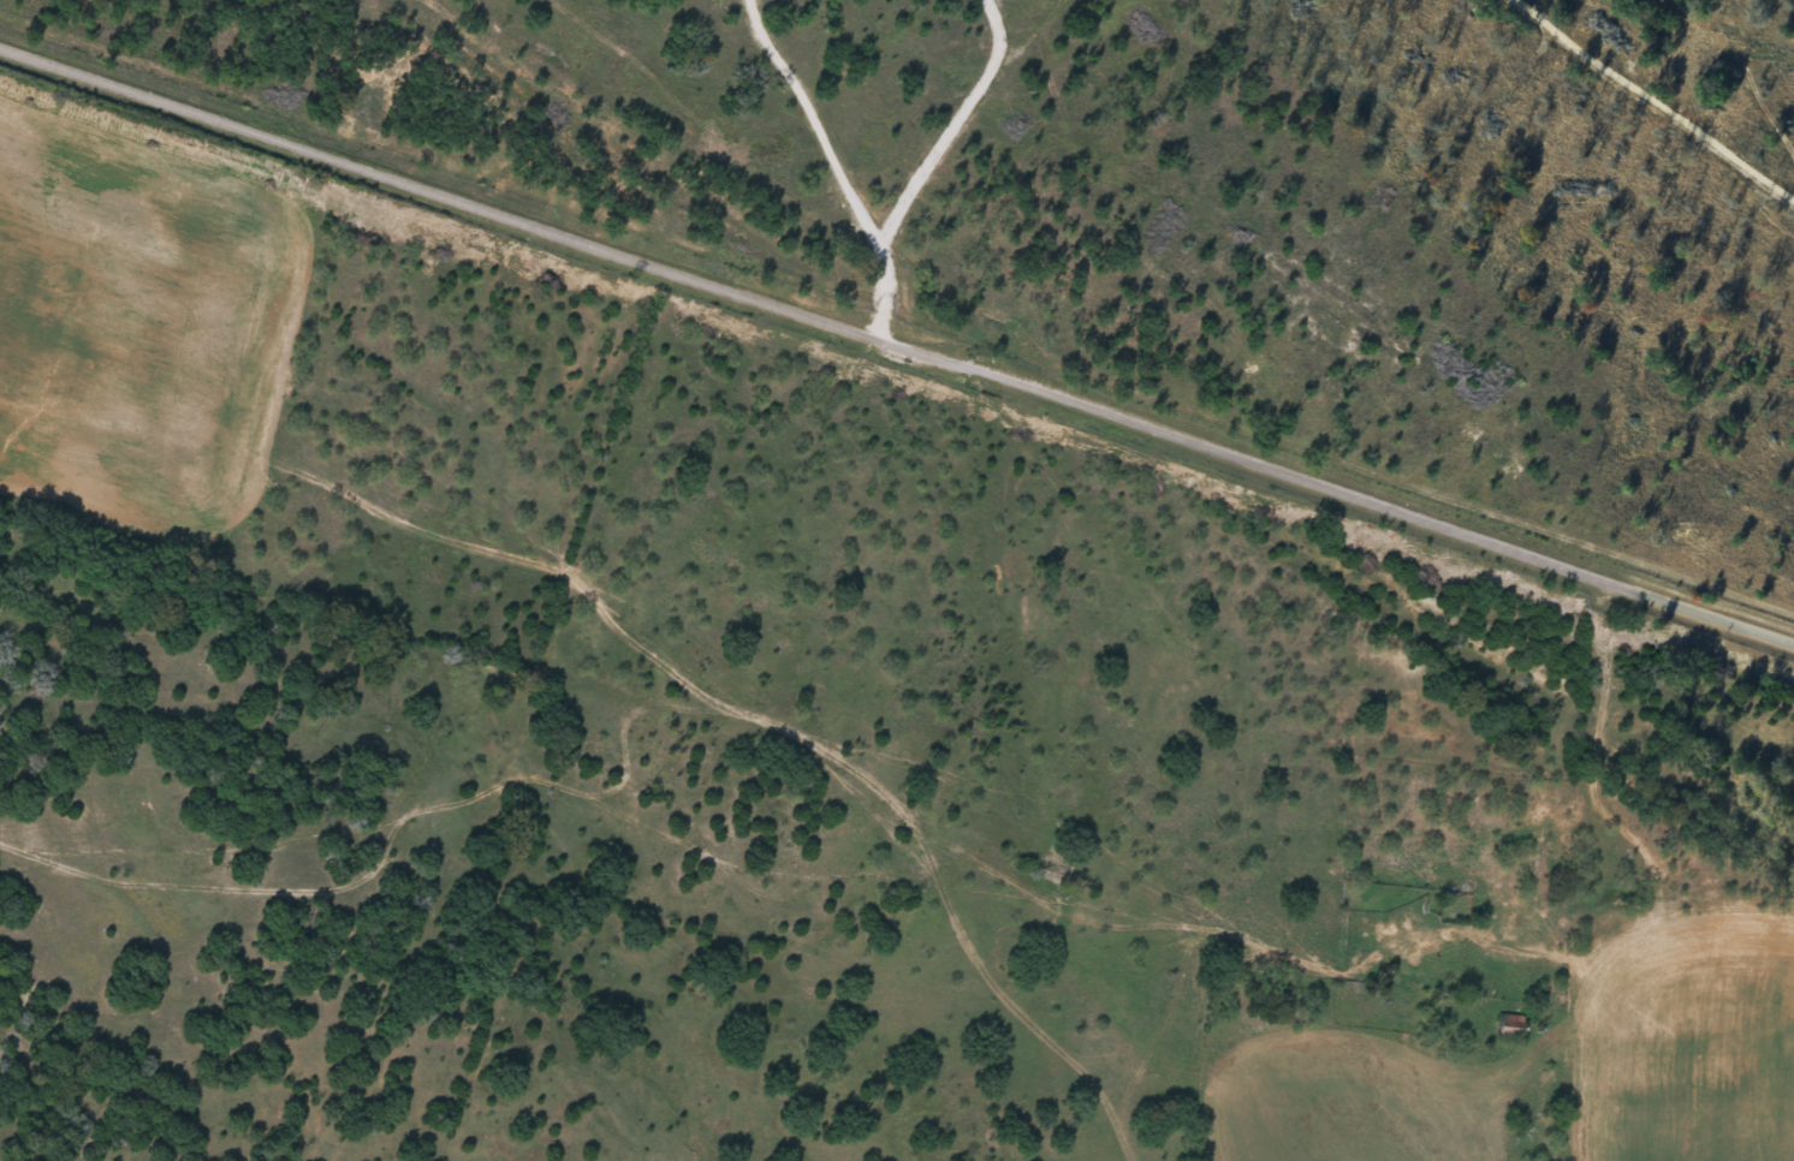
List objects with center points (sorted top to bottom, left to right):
road: (897, 345)
railway: (1097, 409)
road: (1590, 750)
building: (1510, 1024)

